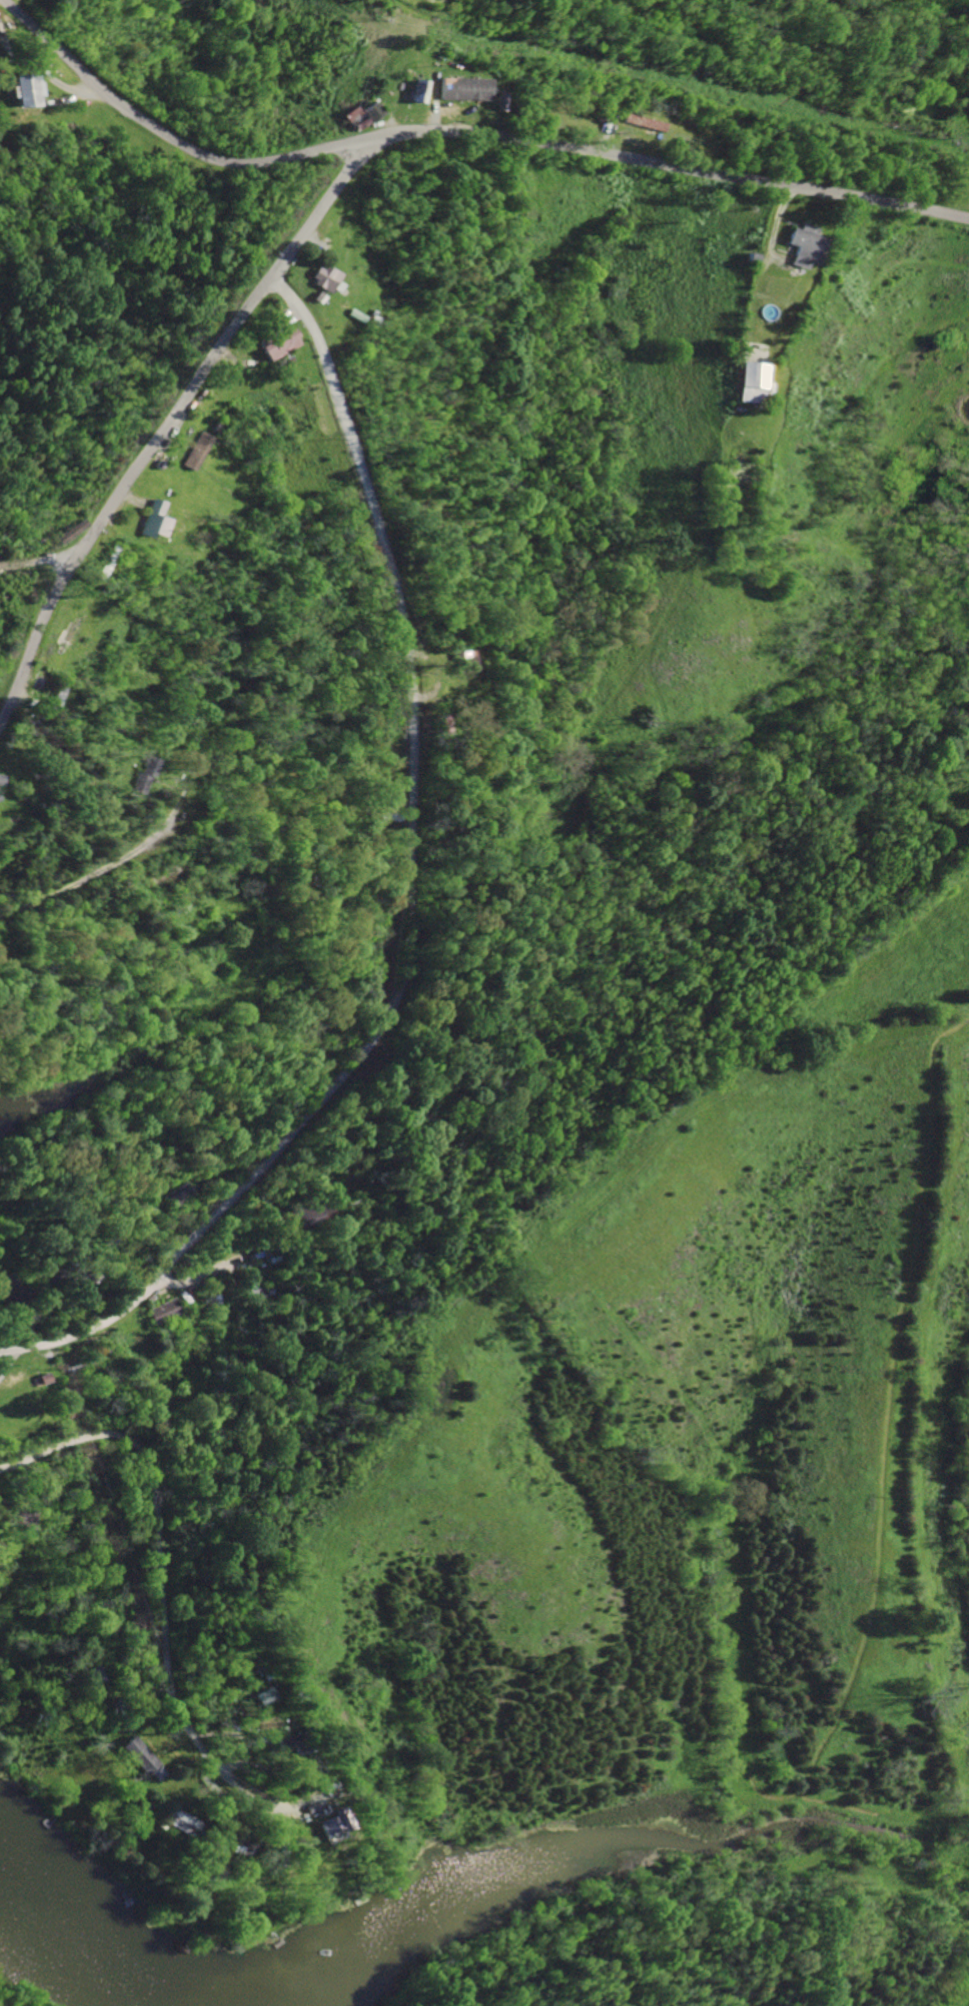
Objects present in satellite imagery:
building: (461, 88)
building: (20, 90)
building: (414, 91)
building: (370, 111)
building: (643, 122)
road: (460, 132)
building: (798, 245)
building: (319, 278)
building: (276, 344)
building: (748, 382)
road: (169, 415)
building: (194, 451)
building: (151, 520)
road: (39, 557)
building: (458, 662)
road: (91, 876)
road: (416, 901)
building: (176, 1194)
road: (264, 1254)
building: (158, 1311)
road: (163, 1532)
building: (261, 1696)
building: (280, 1743)
building: (140, 1754)
road: (320, 1794)
building: (181, 1820)
building: (325, 1825)

